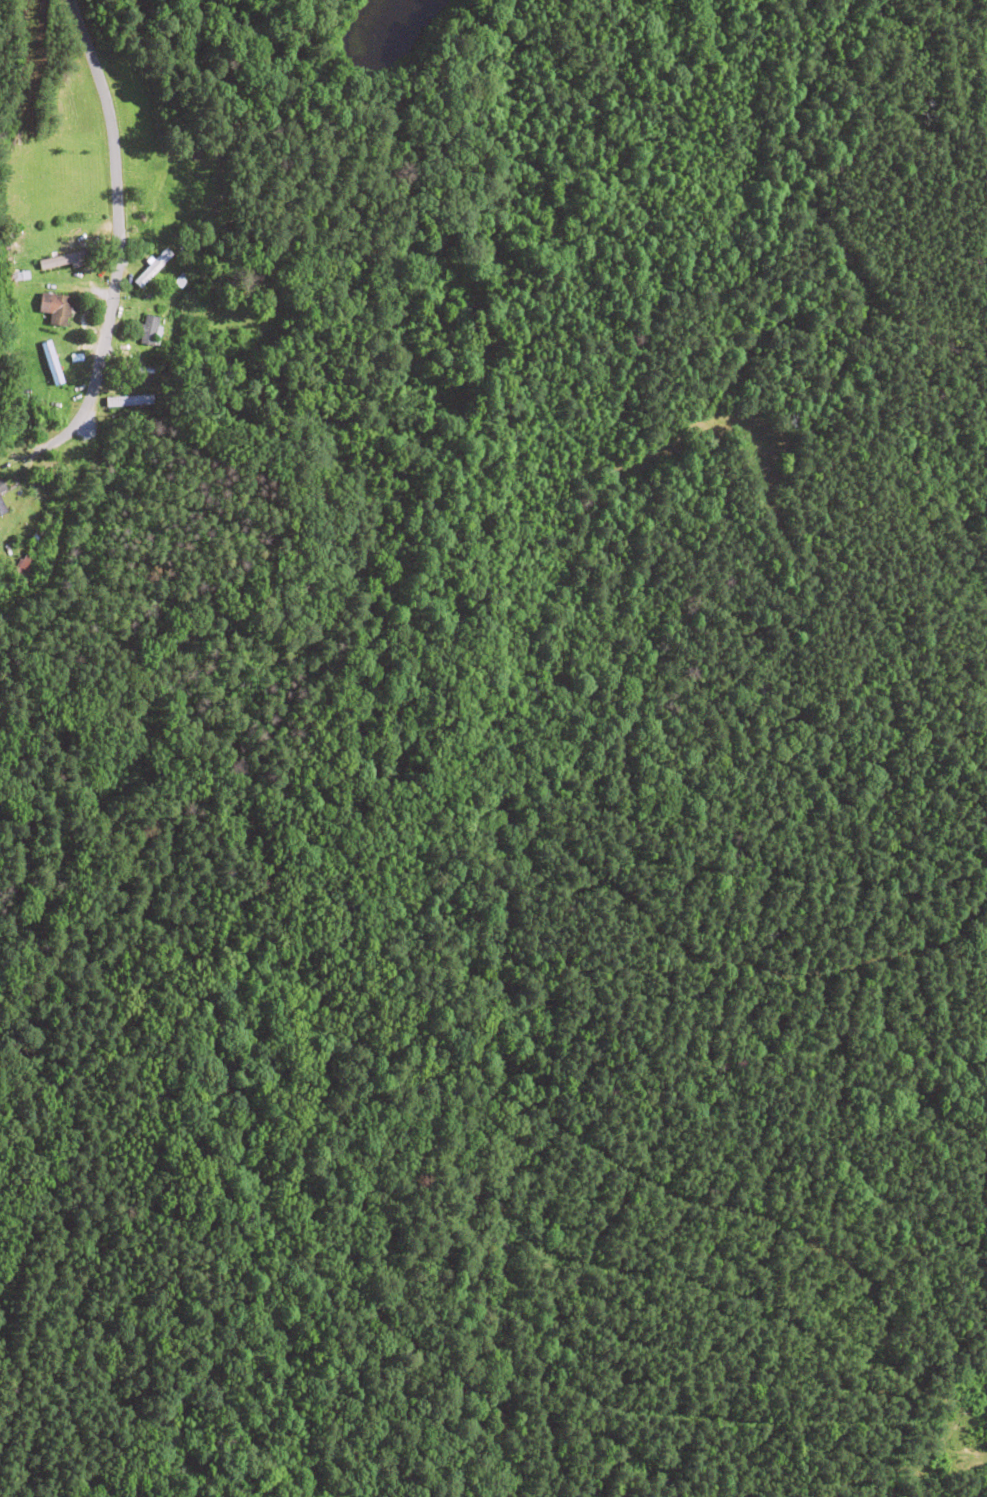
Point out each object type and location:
road: (95, 231)
building: (152, 269)
building: (59, 308)
building: (53, 363)
building: (3, 504)

